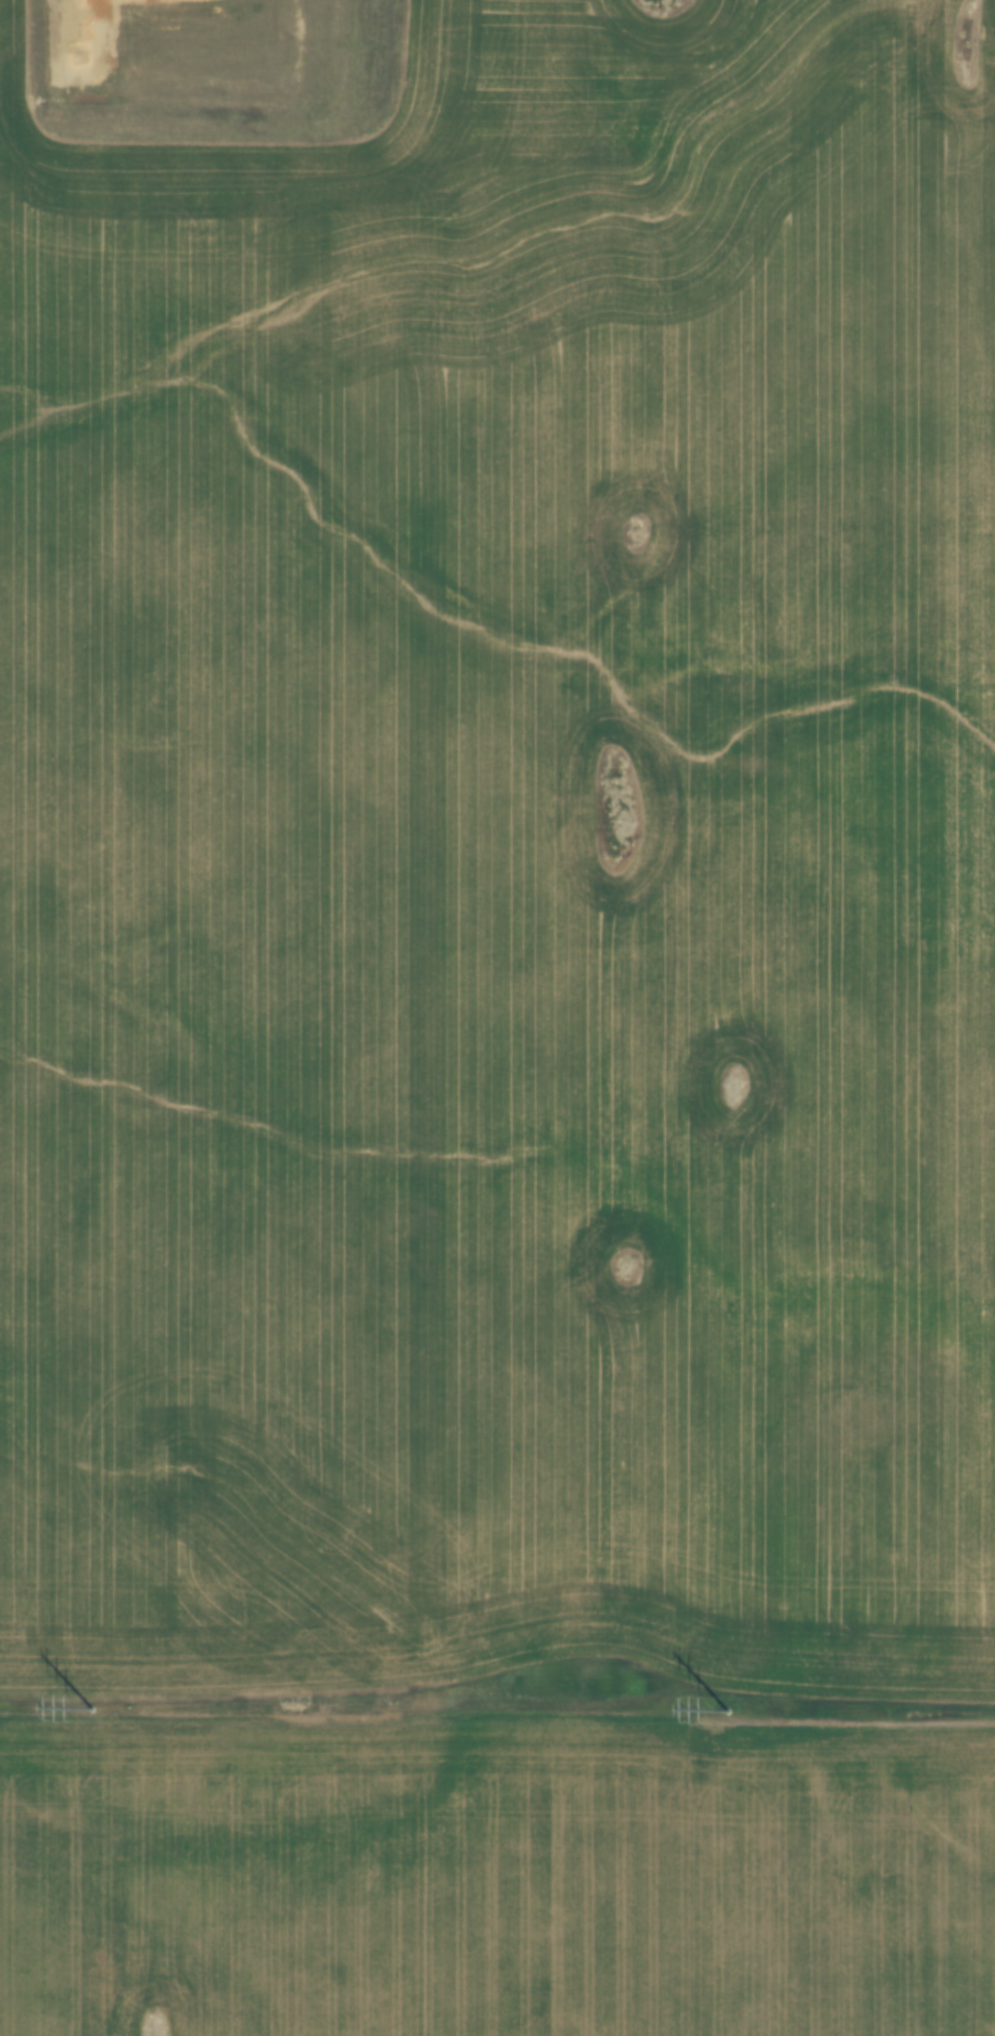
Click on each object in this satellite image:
power tower: (90, 1708)
power tower: (726, 1710)

